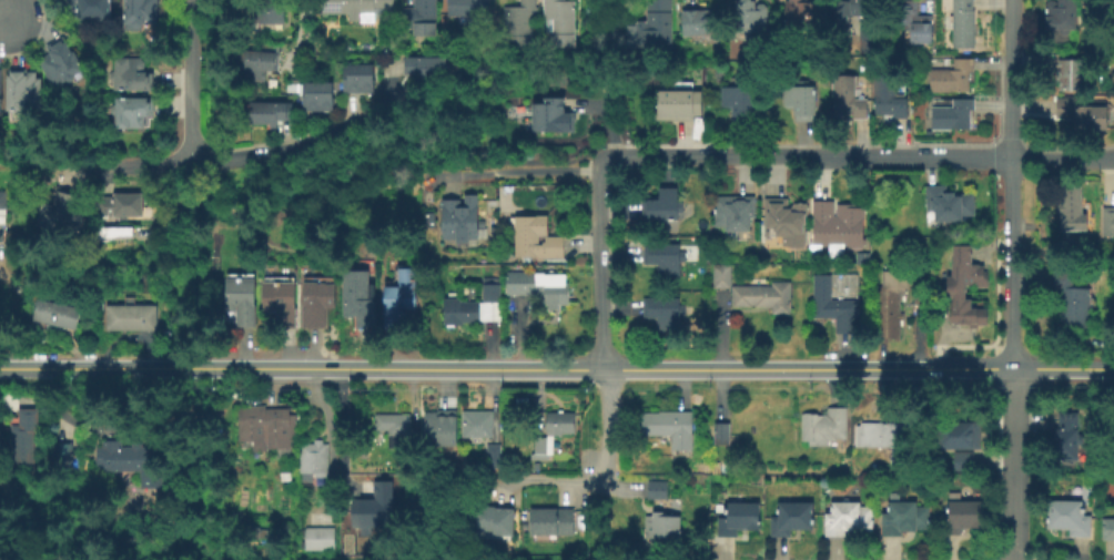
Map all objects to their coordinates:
building: (356, 8)
building: (469, 8)
road: (3, 9)
building: (798, 9)
building: (91, 10)
building: (422, 12)
building: (1092, 12)
building: (142, 13)
building: (1061, 13)
building: (266, 14)
building: (750, 14)
building: (847, 16)
road: (1, 21)
building: (519, 21)
building: (560, 21)
building: (915, 21)
building: (700, 22)
building: (656, 24)
building: (964, 24)
road: (1010, 27)
building: (868, 44)
road: (600, 45)
building: (425, 64)
building: (261, 65)
building: (61, 67)
building: (1072, 74)
building: (130, 75)
building: (355, 77)
building: (953, 78)
road: (190, 80)
building: (849, 93)
building: (314, 95)
building: (889, 95)
building: (0, 98)
building: (800, 98)
building: (23, 99)
building: (738, 99)
building: (677, 101)
road: (1009, 105)
building: (1066, 109)
building: (267, 110)
building: (131, 114)
building: (551, 114)
building: (954, 115)
road: (608, 124)
road: (291, 150)
road: (851, 156)
road: (1106, 157)
road: (480, 164)
road: (599, 164)
road: (141, 170)
road: (513, 173)
road: (1009, 195)
building: (950, 204)
building: (659, 205)
building: (118, 207)
building: (2, 208)
building: (1072, 208)
building: (733, 211)
building: (457, 216)
building: (60, 217)
building: (1108, 221)
building: (784, 223)
building: (838, 225)
building: (111, 233)
building: (535, 236)
building: (662, 254)
building: (721, 276)
building: (537, 285)
building: (964, 288)
building: (398, 293)
building: (766, 294)
building: (356, 297)
building: (239, 299)
building: (831, 301)
building: (1072, 301)
building: (278, 302)
building: (316, 303)
building: (472, 307)
building: (662, 308)
building: (889, 313)
building: (129, 317)
building: (54, 319)
road: (602, 326)
road: (556, 367)
road: (1012, 396)
building: (266, 420)
building: (392, 424)
building: (477, 425)
building: (826, 426)
building: (440, 427)
building: (671, 428)
road: (343, 431)
building: (722, 431)
building: (553, 432)
building: (21, 434)
building: (956, 434)
building: (1067, 435)
building: (887, 441)
building: (495, 456)
building: (62, 457)
building: (955, 459)
building: (132, 460)
building: (315, 460)
road: (553, 482)
building: (657, 488)
building: (371, 508)
building: (962, 516)
building: (792, 517)
building: (847, 517)
building: (903, 517)
building: (1067, 518)
building: (493, 519)
building: (740, 519)
building: (551, 520)
building: (665, 527)
building: (1107, 529)
building: (321, 539)

